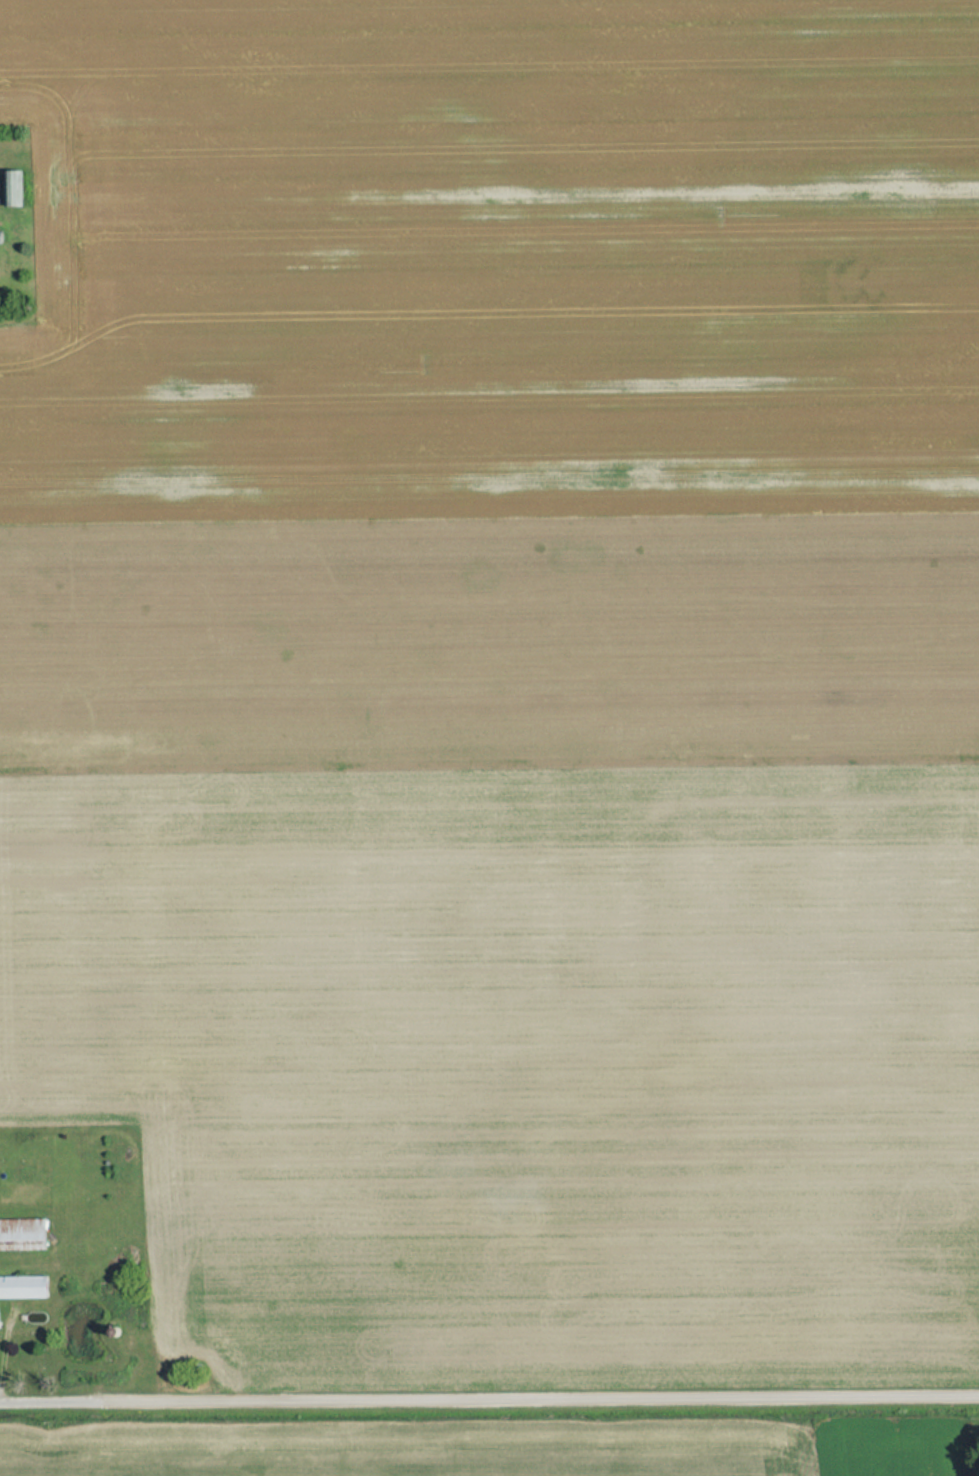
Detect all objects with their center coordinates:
crop: (503, 676)
building: (23, 1234)
building: (25, 1287)
road: (489, 1396)
crop: (893, 1447)
crop: (397, 1454)

